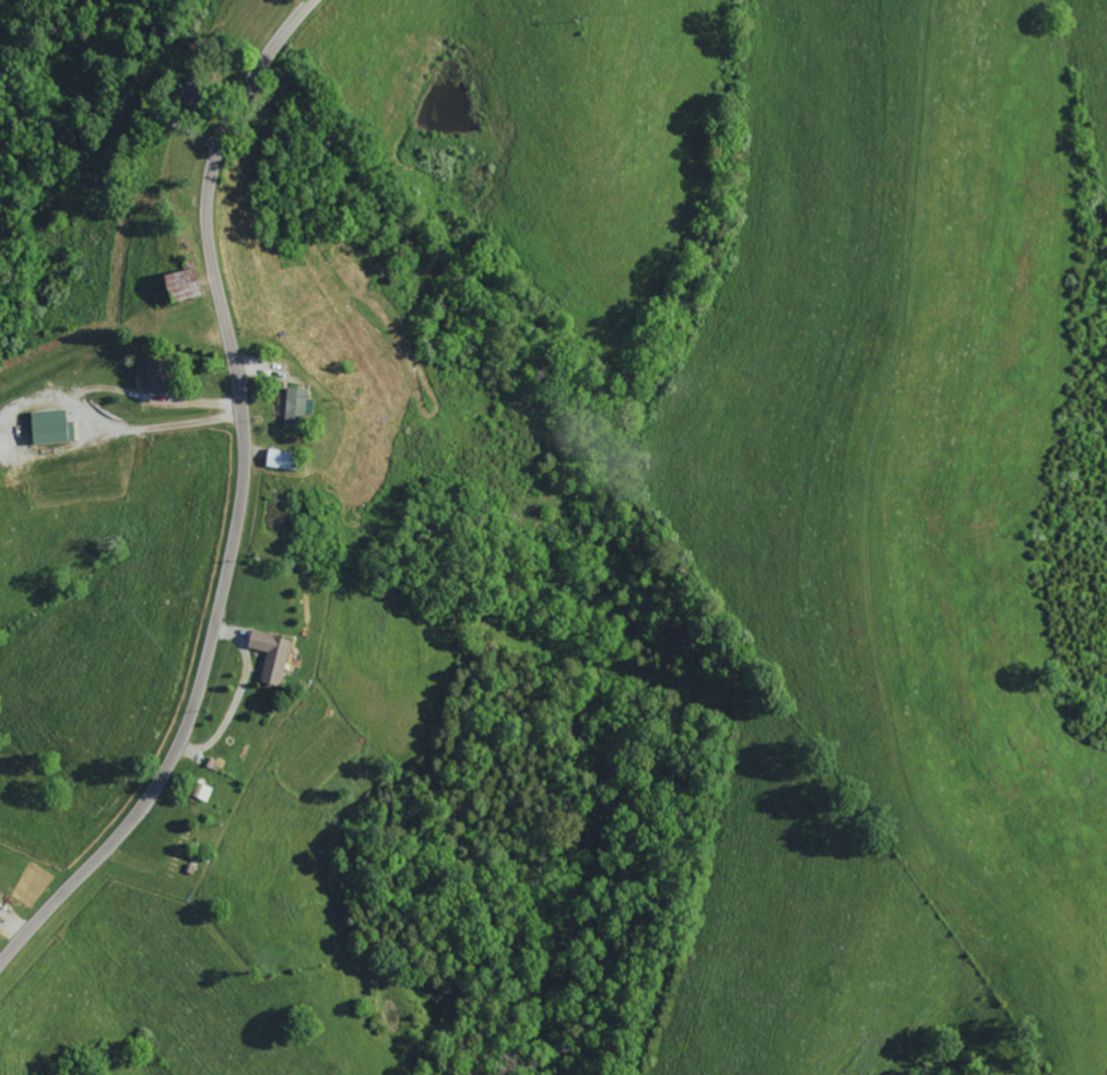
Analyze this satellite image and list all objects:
building: (179, 284)
building: (153, 375)
building: (295, 406)
building: (49, 427)
road: (225, 489)
building: (269, 655)

